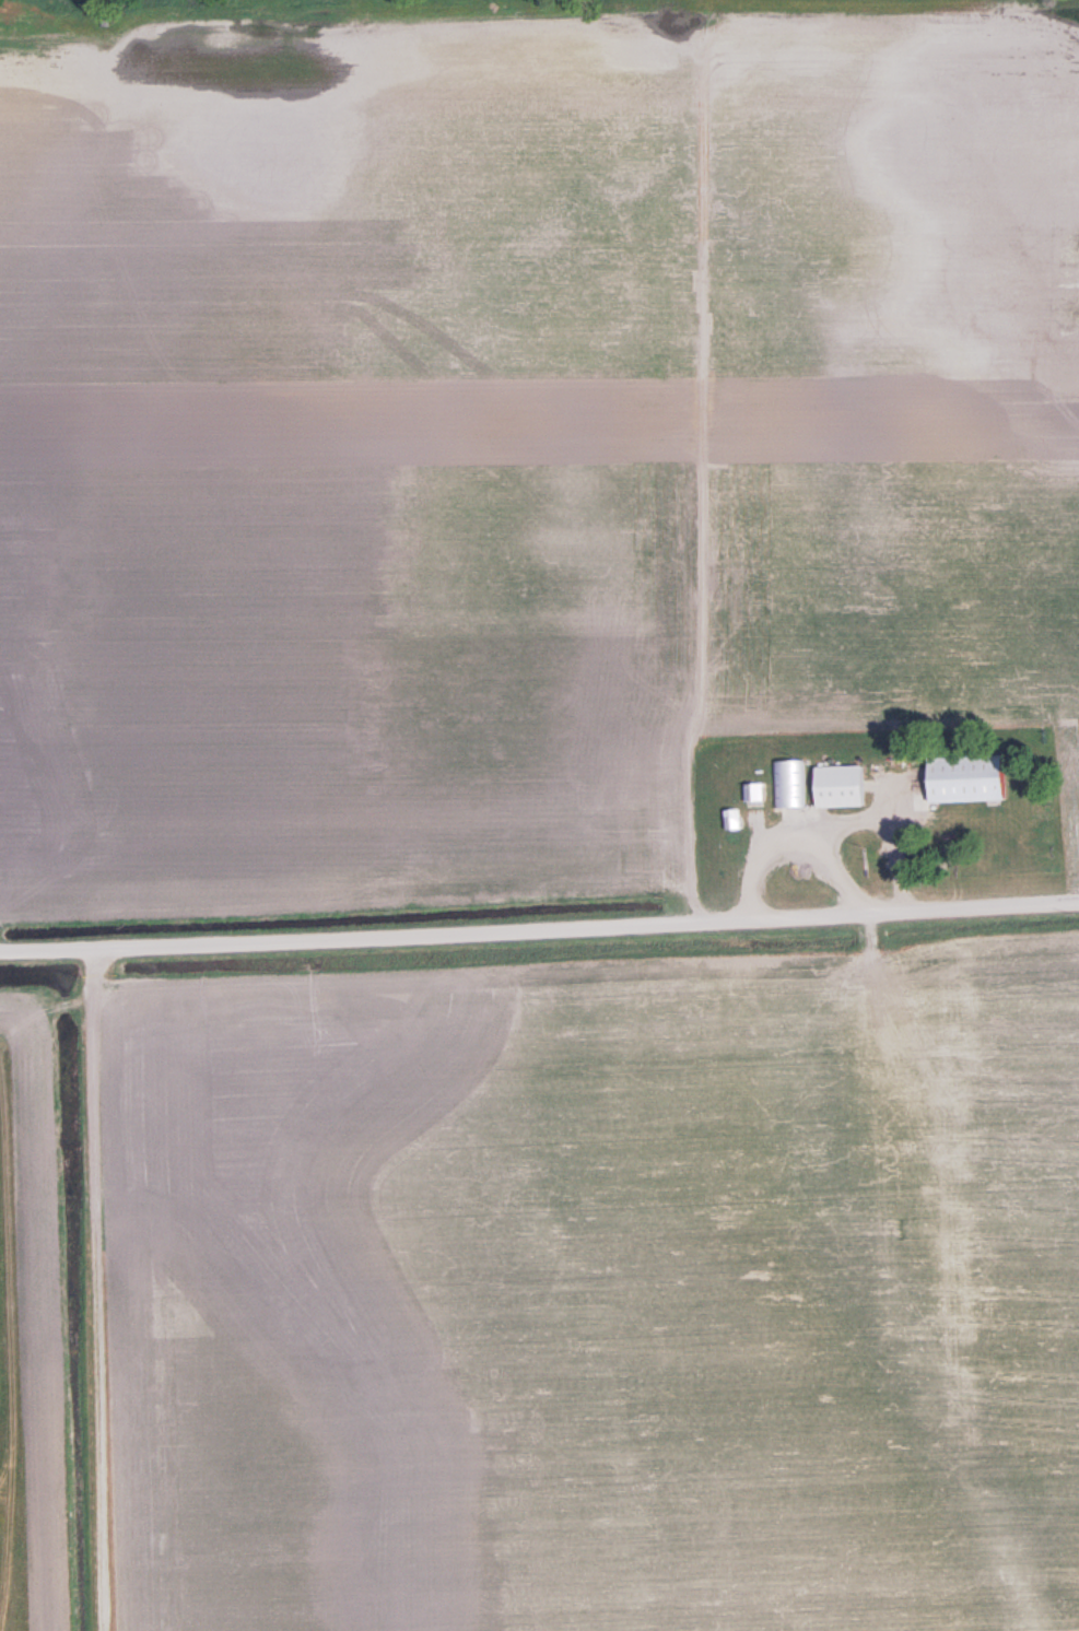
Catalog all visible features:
building: (964, 778)
building: (785, 785)
building: (834, 786)
building: (749, 794)
building: (726, 821)
road: (539, 930)
road: (101, 1290)

